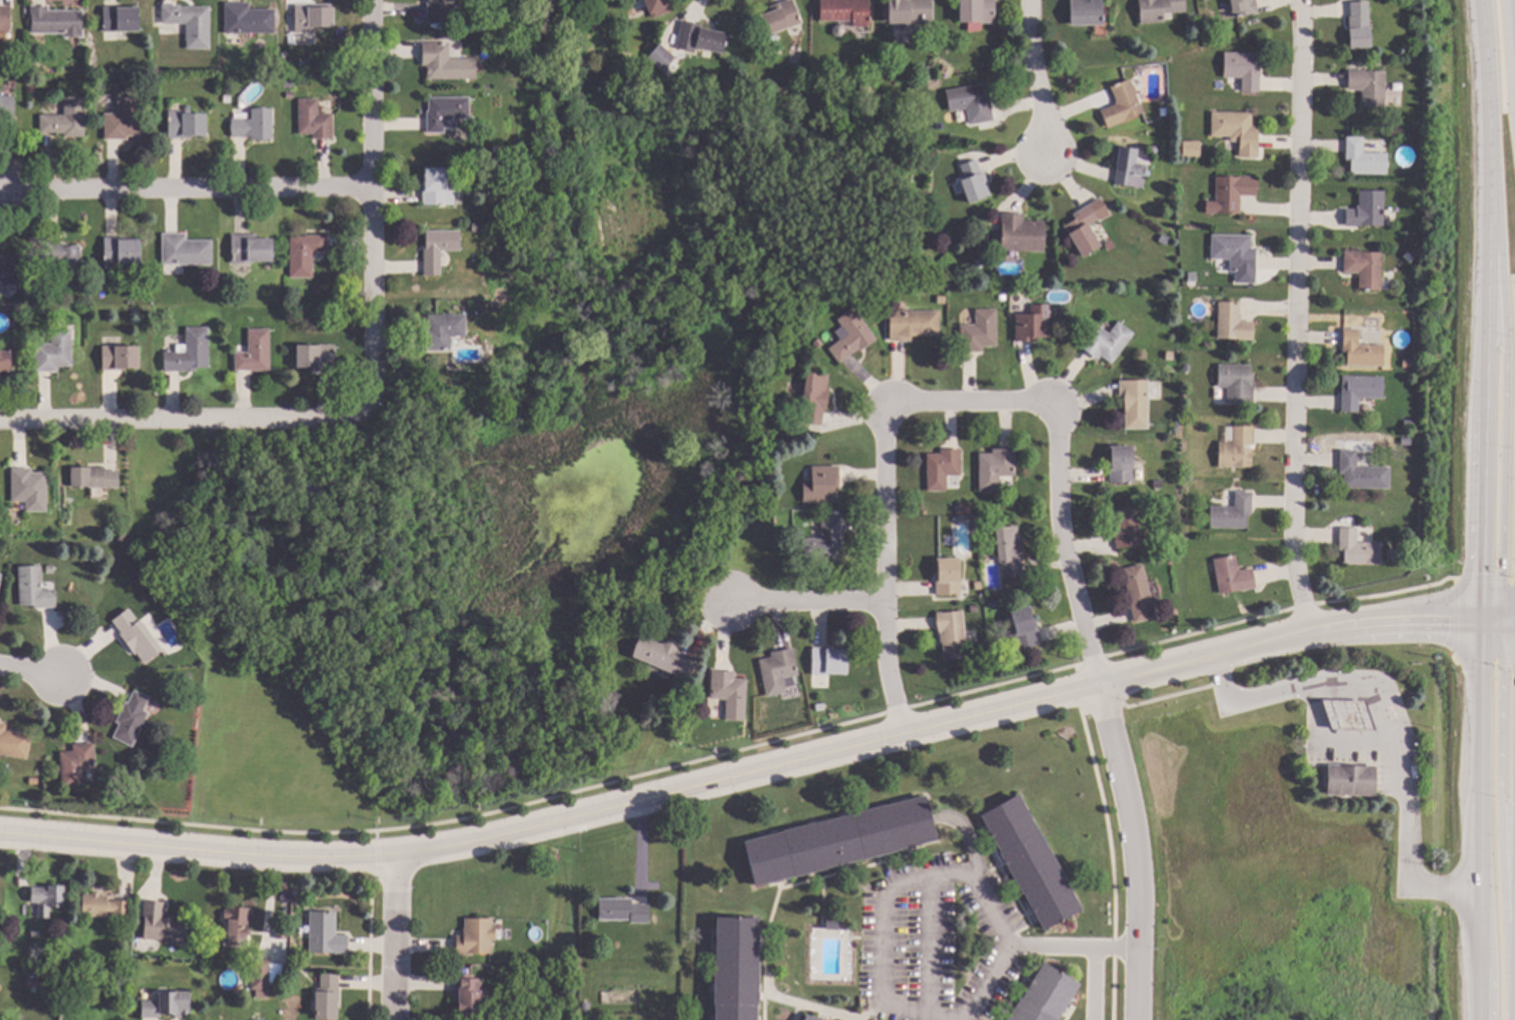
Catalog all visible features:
building: (590, 2)
building: (659, 7)
building: (1243, 7)
building: (440, 8)
building: (1158, 9)
building: (978, 10)
building: (846, 11)
building: (1087, 11)
building: (907, 12)
road: (1513, 12)
building: (5, 16)
building: (781, 16)
building: (313, 17)
building: (249, 19)
building: (120, 20)
building: (290, 21)
building: (57, 22)
building: (191, 23)
building: (1359, 25)
building: (838, 30)
building: (1226, 34)
building: (443, 35)
building: (700, 38)
building: (774, 39)
building: (165, 40)
building: (338, 51)
building: (795, 53)
building: (661, 57)
building: (441, 62)
building: (36, 63)
building: (1243, 69)
building: (927, 71)
road: (1037, 79)
building: (1369, 86)
building: (867, 89)
building: (291, 95)
building: (972, 102)
building: (1123, 104)
building: (7, 107)
building: (446, 111)
building: (1163, 111)
building: (67, 119)
building: (123, 120)
building: (314, 120)
building: (186, 124)
building: (254, 125)
building: (1236, 129)
building: (1187, 149)
building: (1152, 150)
building: (1364, 157)
building: (1128, 166)
building: (908, 167)
building: (974, 181)
building: (436, 186)
road: (187, 187)
building: (1233, 192)
road: (372, 208)
building: (1368, 209)
building: (476, 227)
building: (1084, 229)
building: (1022, 233)
building: (251, 248)
building: (438, 248)
building: (122, 249)
building: (185, 250)
building: (1235, 252)
building: (305, 253)
building: (65, 261)
building: (1365, 268)
building: (8, 270)
building: (318, 290)
building: (1003, 297)
building: (943, 300)
building: (456, 310)
road: (1486, 310)
building: (1061, 312)
road: (1285, 317)
building: (1233, 322)
building: (62, 323)
building: (913, 324)
building: (1034, 324)
building: (444, 331)
building: (980, 331)
building: (852, 336)
building: (1107, 341)
building: (1362, 350)
building: (55, 351)
building: (190, 352)
building: (255, 352)
building: (121, 357)
building: (317, 357)
building: (5, 360)
building: (1409, 363)
building: (1237, 382)
building: (1360, 390)
building: (815, 397)
road: (941, 400)
building: (1135, 403)
road: (181, 415)
road: (1502, 426)
building: (791, 429)
building: (1407, 441)
building: (1237, 448)
building: (1122, 464)
building: (996, 467)
building: (943, 468)
building: (1359, 472)
building: (94, 477)
building: (1159, 483)
building: (822, 485)
building: (31, 488)
building: (965, 509)
building: (1233, 512)
park: (475, 523)
building: (1126, 529)
building: (120, 535)
building: (1160, 536)
building: (821, 542)
building: (1358, 548)
building: (1010, 551)
building: (1391, 553)
building: (49, 569)
building: (0, 575)
building: (1232, 575)
building: (948, 576)
building: (978, 585)
building: (34, 588)
building: (1138, 592)
road: (797, 599)
building: (974, 608)
road: (1454, 622)
traffic signals: (1477, 622)
road: (1496, 622)
building: (1024, 629)
building: (952, 634)
building: (136, 635)
building: (664, 657)
building: (828, 661)
building: (778, 670)
road: (29, 674)
road: (1477, 675)
building: (186, 677)
road: (1340, 687)
building: (730, 693)
building: (820, 706)
building: (1346, 717)
building: (132, 718)
building: (682, 736)
building: (14, 742)
building: (77, 764)
road: (740, 767)
building: (34, 780)
building: (1347, 781)
road: (1499, 799)
building: (840, 840)
road: (1137, 848)
building: (1031, 862)
road: (931, 872)
road: (1476, 874)
road: (1408, 881)
building: (48, 899)
building: (104, 906)
building: (623, 910)
building: (135, 922)
building: (161, 924)
building: (832, 924)
building: (238, 925)
building: (326, 934)
road: (395, 937)
building: (476, 937)
road: (925, 946)
road: (1069, 946)
road: (1513, 961)
building: (80, 962)
building: (42, 968)
building: (736, 969)
building: (260, 977)
road: (1093, 984)
building: (468, 993)
building: (1045, 996)
building: (328, 997)
building: (167, 1004)
road: (808, 1008)
road: (877, 1013)
road: (1512, 1017)
building: (811, 1018)
building: (803, 1019)

